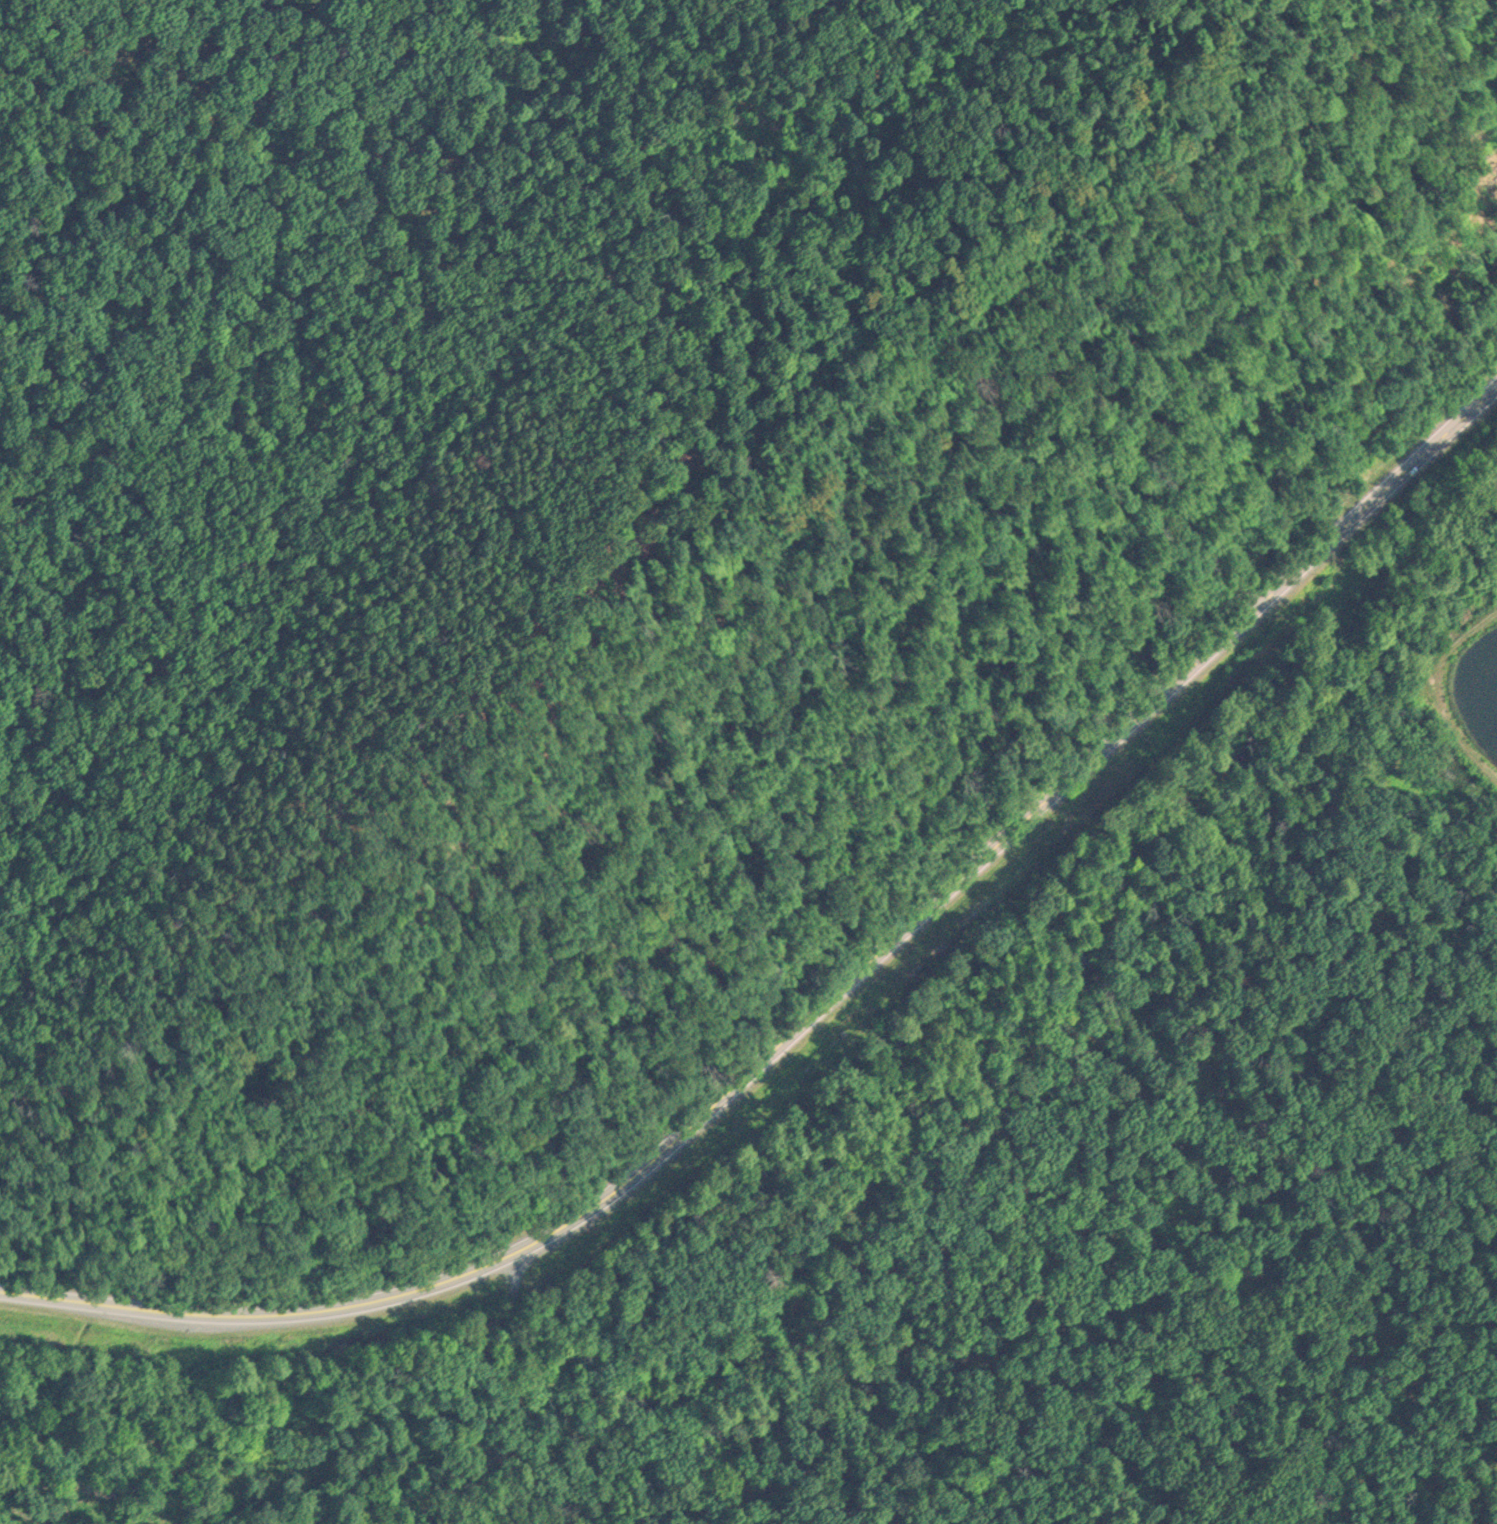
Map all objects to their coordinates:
road: (820, 1012)

